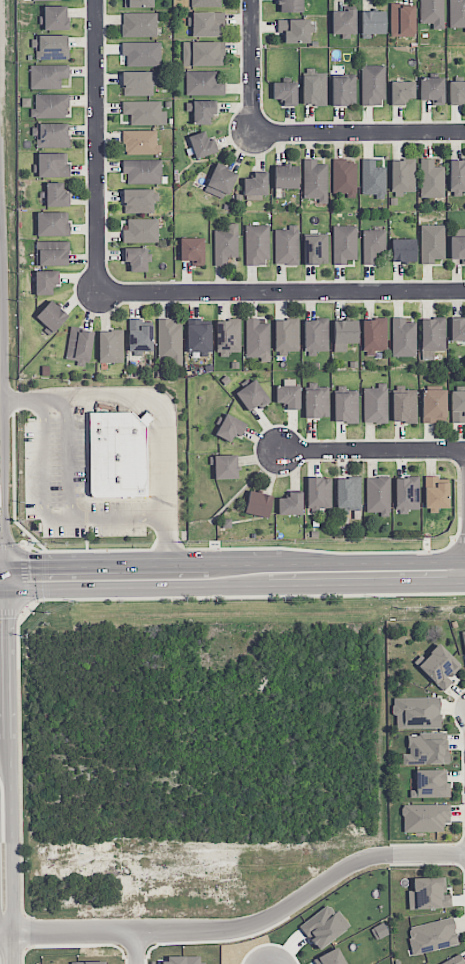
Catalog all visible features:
building: (206, 2)
building: (137, 3)
building: (290, 6)
building: (431, 13)
building: (456, 13)
building: (54, 17)
building: (401, 20)
building: (343, 22)
building: (372, 23)
building: (139, 24)
building: (294, 30)
building: (50, 46)
building: (141, 52)
building: (202, 53)
road: (252, 66)
building: (47, 75)
building: (203, 82)
building: (138, 83)
building: (372, 84)
building: (313, 87)
building: (343, 89)
building: (432, 89)
building: (285, 92)
building: (401, 92)
building: (456, 92)
building: (50, 105)
building: (203, 111)
building: (144, 112)
road: (359, 132)
building: (51, 134)
building: (140, 142)
building: (201, 144)
road: (96, 146)
building: (52, 164)
building: (142, 170)
building: (457, 175)
building: (286, 176)
building: (402, 176)
building: (344, 177)
building: (373, 178)
building: (431, 179)
building: (315, 180)
building: (220, 181)
building: (256, 184)
building: (55, 195)
building: (139, 200)
building: (52, 223)
building: (141, 230)
building: (344, 243)
building: (431, 243)
building: (225, 244)
building: (256, 244)
building: (286, 245)
building: (372, 245)
building: (315, 248)
building: (457, 248)
building: (403, 249)
building: (192, 250)
building: (51, 253)
building: (135, 258)
building: (45, 281)
road: (281, 291)
building: (51, 315)
building: (457, 329)
building: (344, 334)
building: (315, 335)
building: (374, 335)
building: (199, 336)
building: (227, 336)
building: (286, 336)
building: (432, 336)
building: (139, 337)
building: (403, 337)
building: (257, 339)
building: (169, 340)
building: (79, 345)
building: (110, 346)
building: (252, 395)
building: (288, 395)
building: (316, 402)
building: (375, 403)
building: (433, 405)
building: (457, 405)
road: (155, 406)
building: (345, 406)
building: (404, 406)
building: (230, 427)
road: (372, 450)
building: (117, 453)
building: (225, 466)
building: (318, 492)
building: (435, 493)
building: (348, 494)
building: (377, 494)
building: (406, 494)
building: (258, 503)
building: (290, 503)
road: (57, 516)
road: (118, 517)
road: (459, 539)
road: (11, 545)
road: (275, 547)
road: (231, 564)
traffic signals: (27, 568)
road: (331, 574)
road: (231, 585)
road: (242, 596)
road: (12, 612)
traffic signals: (9, 619)
building: (463, 638)
building: (437, 665)
building: (416, 712)
building: (425, 749)
road: (19, 767)
road: (11, 774)
building: (430, 784)
road: (463, 798)
building: (425, 817)
road: (447, 863)
building: (428, 893)
road: (248, 923)
building: (323, 926)
road: (7, 931)
road: (25, 931)
building: (432, 935)
road: (70, 944)
road: (269, 944)
road: (135, 947)
road: (149, 949)
road: (135, 956)
building: (329, 957)
building: (454, 960)

